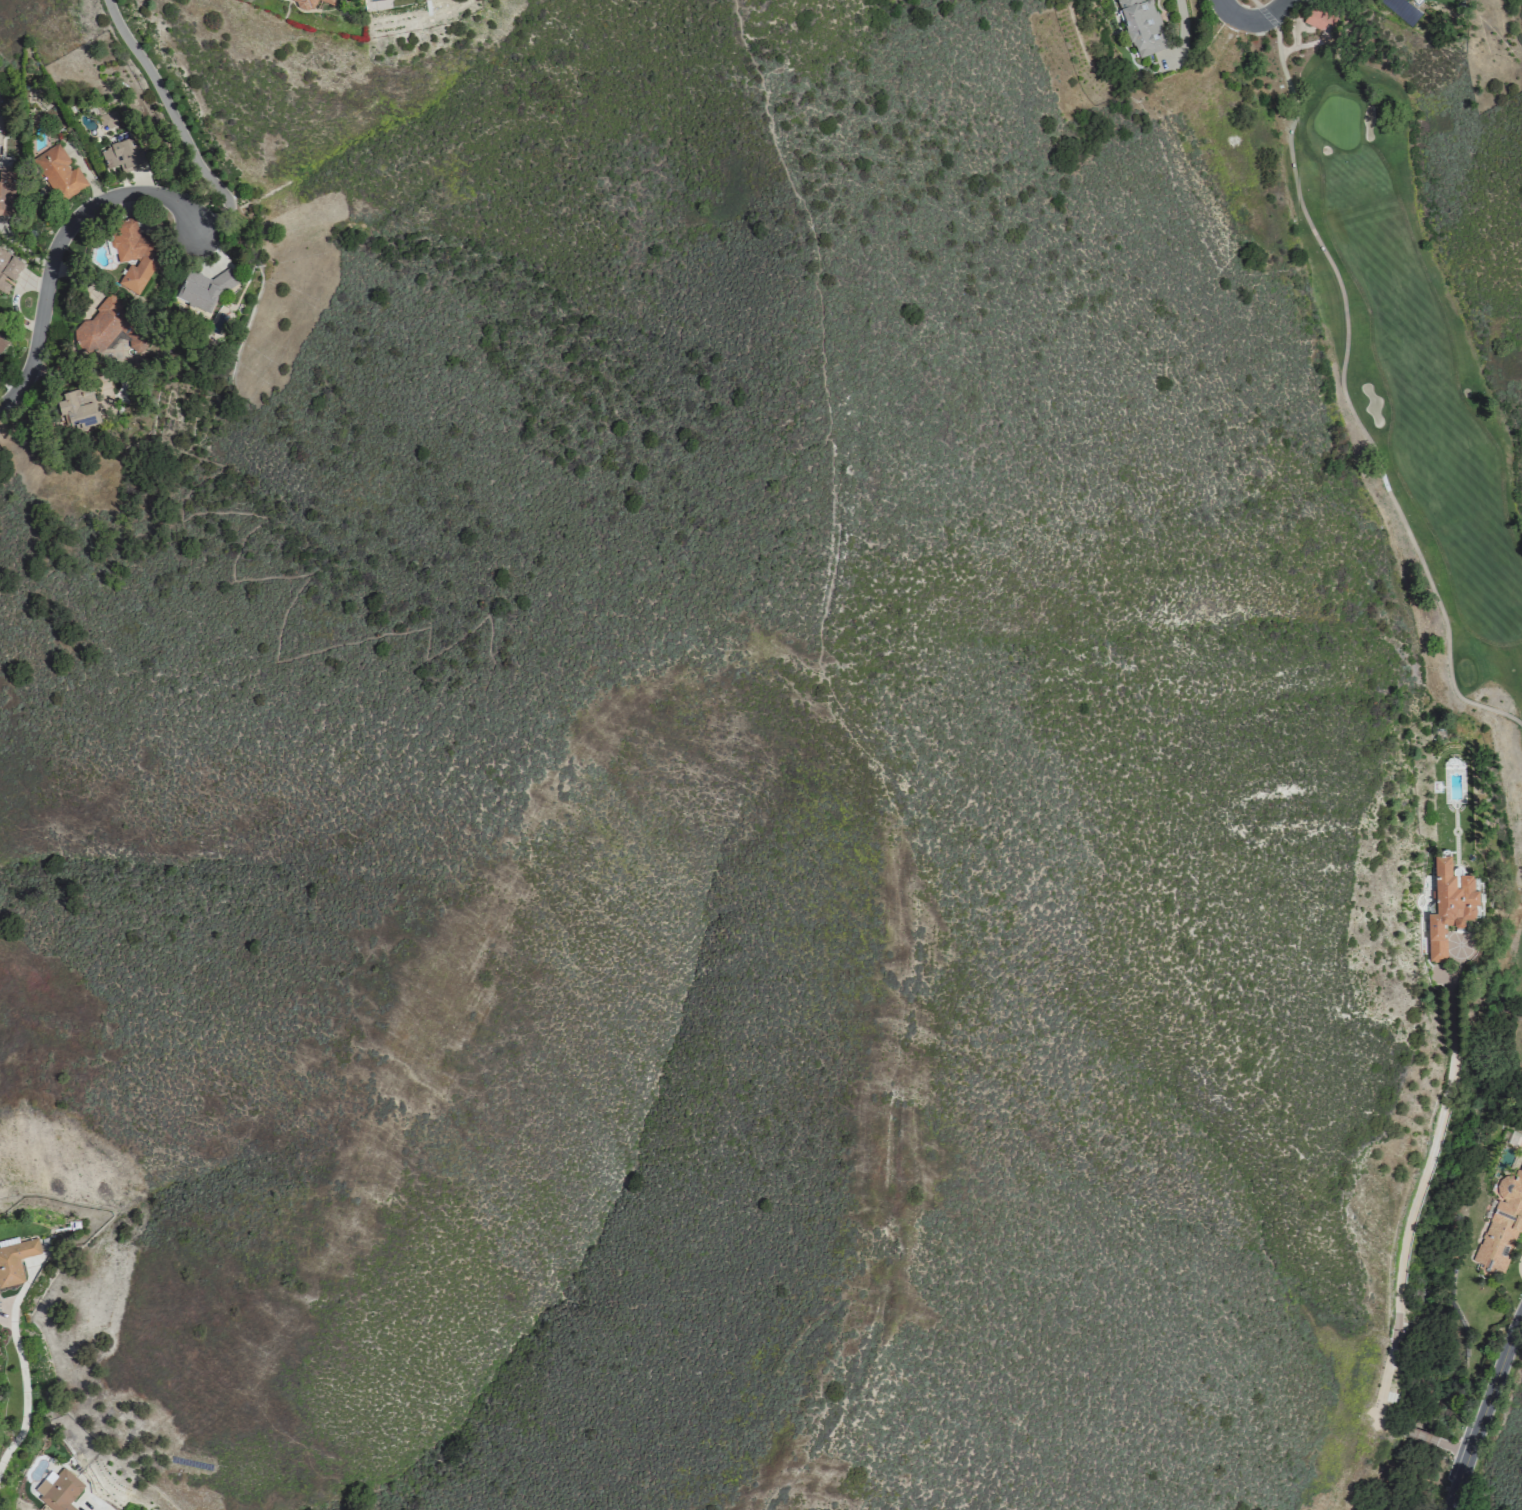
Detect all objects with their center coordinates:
building: (1156, 0)
building: (328, 1)
building: (303, 4)
road: (1251, 18)
building: (1319, 18)
building: (1142, 26)
building: (107, 120)
road: (177, 122)
building: (122, 155)
building: (59, 172)
building: (6, 193)
road: (58, 241)
building: (135, 255)
building: (8, 269)
building: (204, 289)
building: (109, 328)
building: (2, 343)
park: (1408, 360)
road: (1340, 384)
building: (76, 408)
building: (1448, 905)
building: (1501, 1223)
road: (1404, 1244)
building: (15, 1260)
road: (23, 1378)
road: (1483, 1412)
building: (58, 1490)

